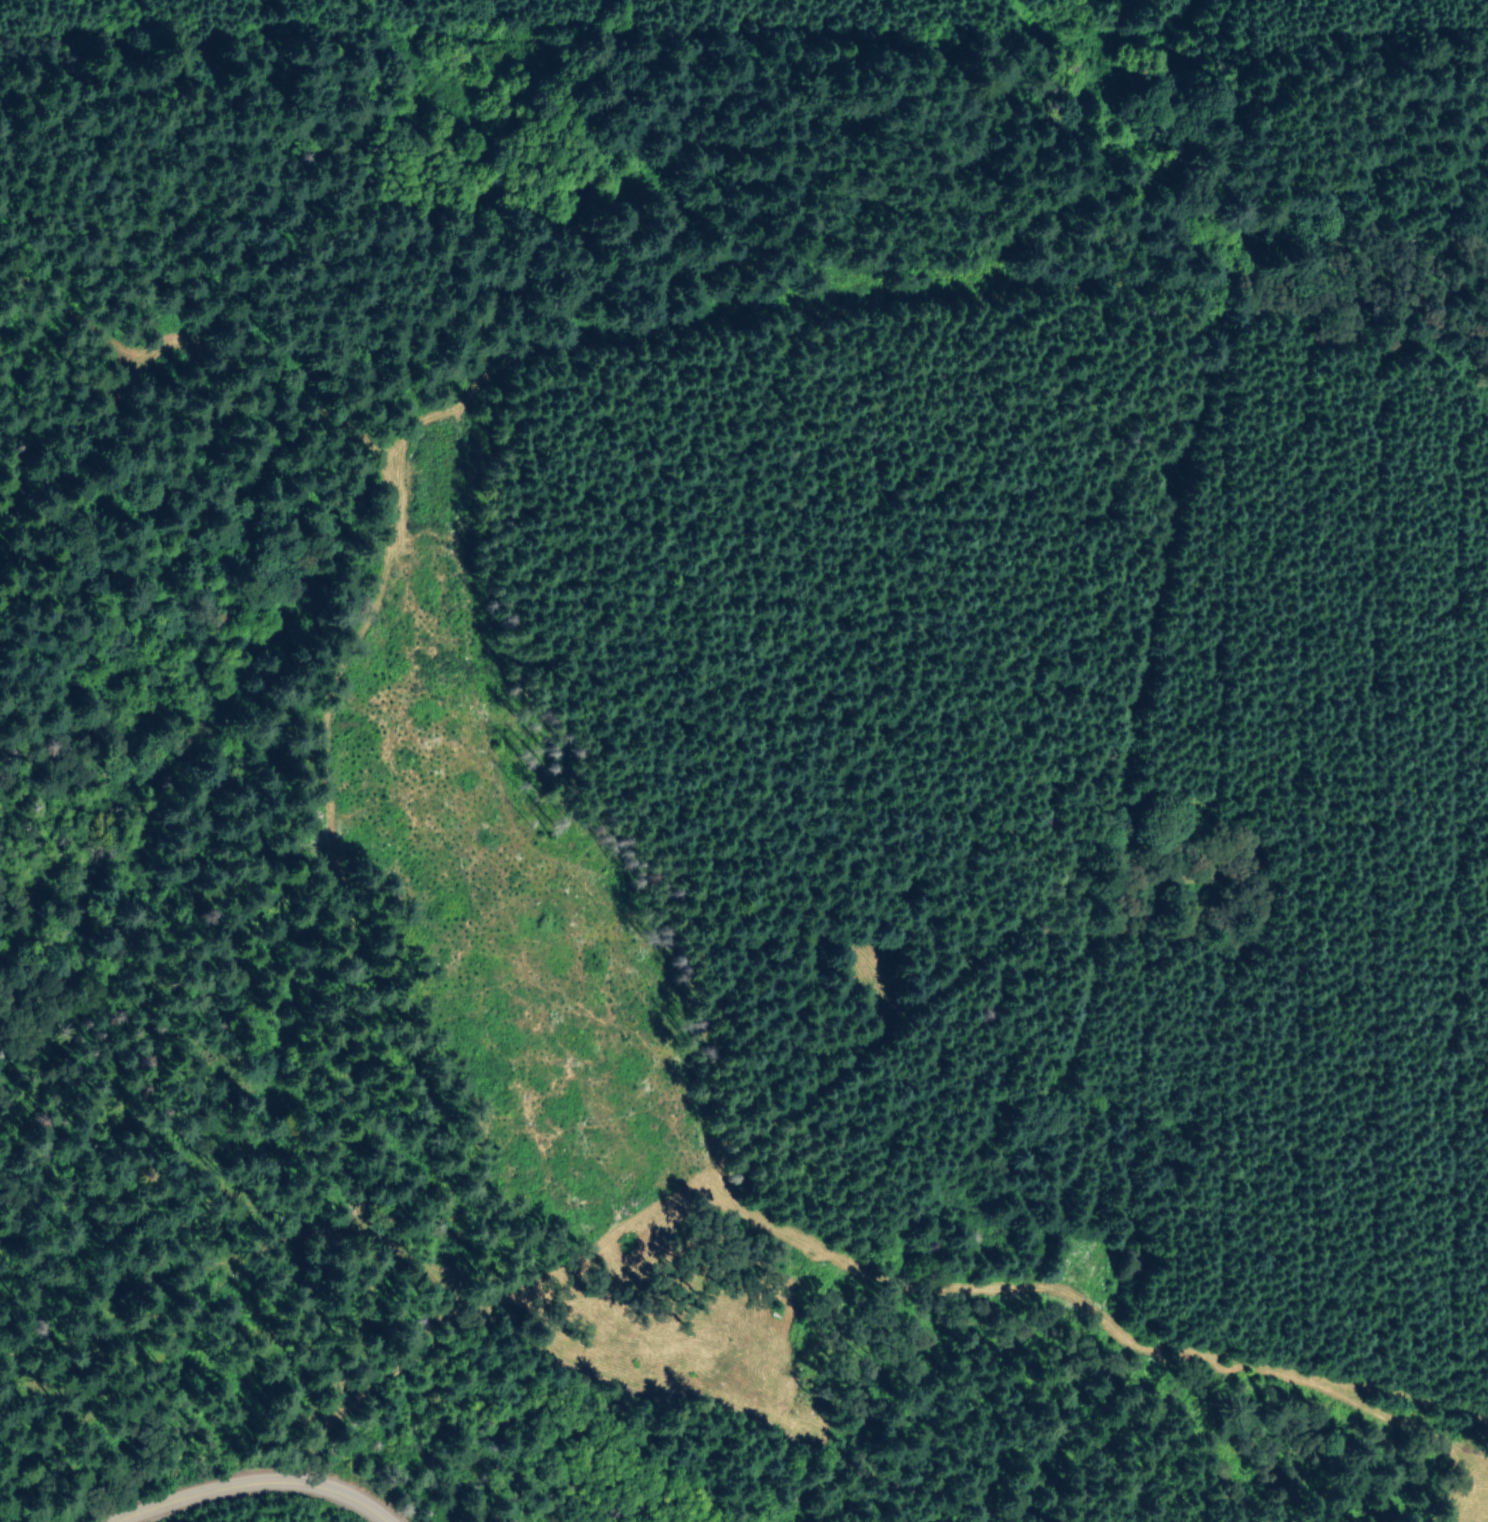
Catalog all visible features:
road: (1109, 39)
road: (575, 47)
road: (1184, 302)
road: (363, 662)
road: (321, 1154)
road: (1089, 1307)
road: (1414, 1404)
road: (248, 1486)

